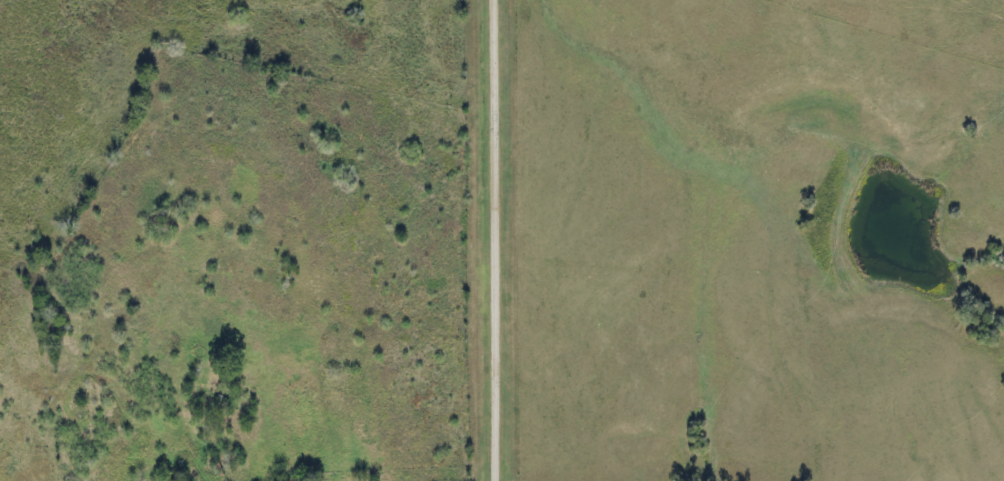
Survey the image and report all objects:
road: (501, 240)

